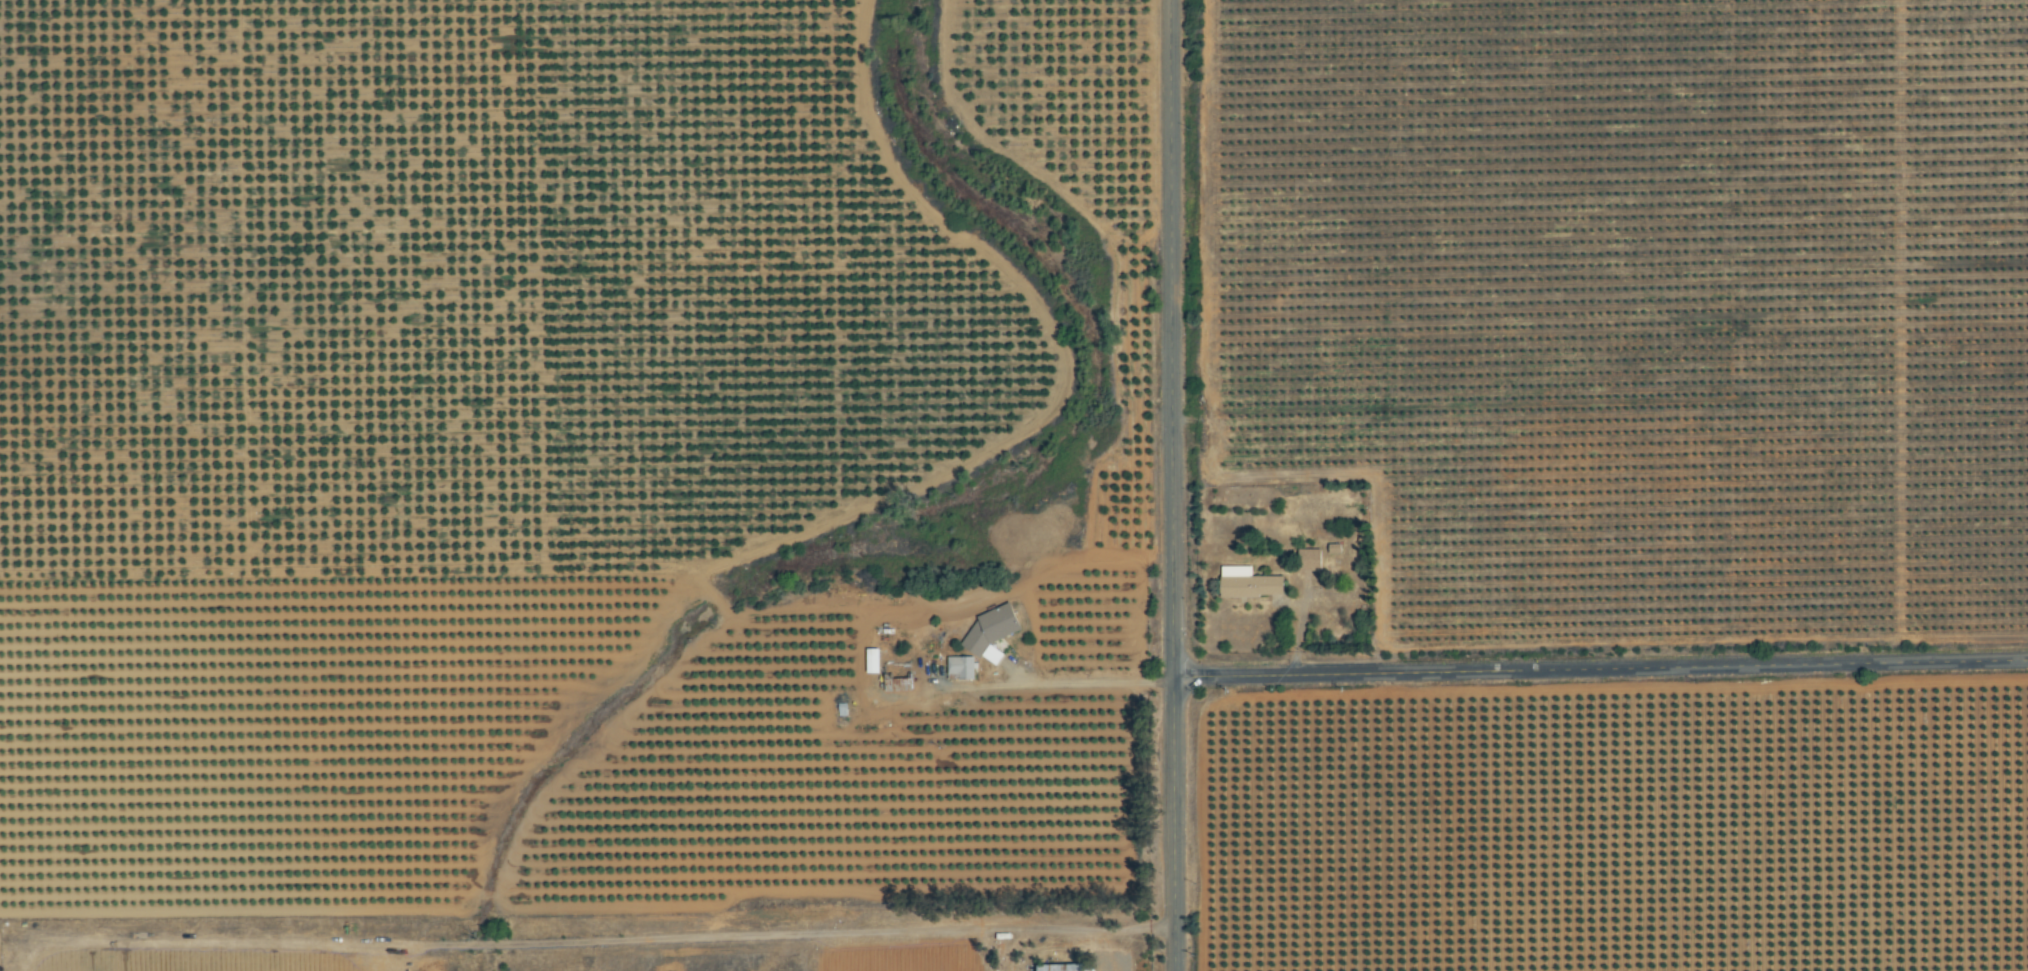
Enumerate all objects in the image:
road: (1172, 485)
building: (1310, 561)
building: (1251, 584)
building: (993, 633)
building: (963, 668)
road: (1600, 669)
road: (1078, 680)

